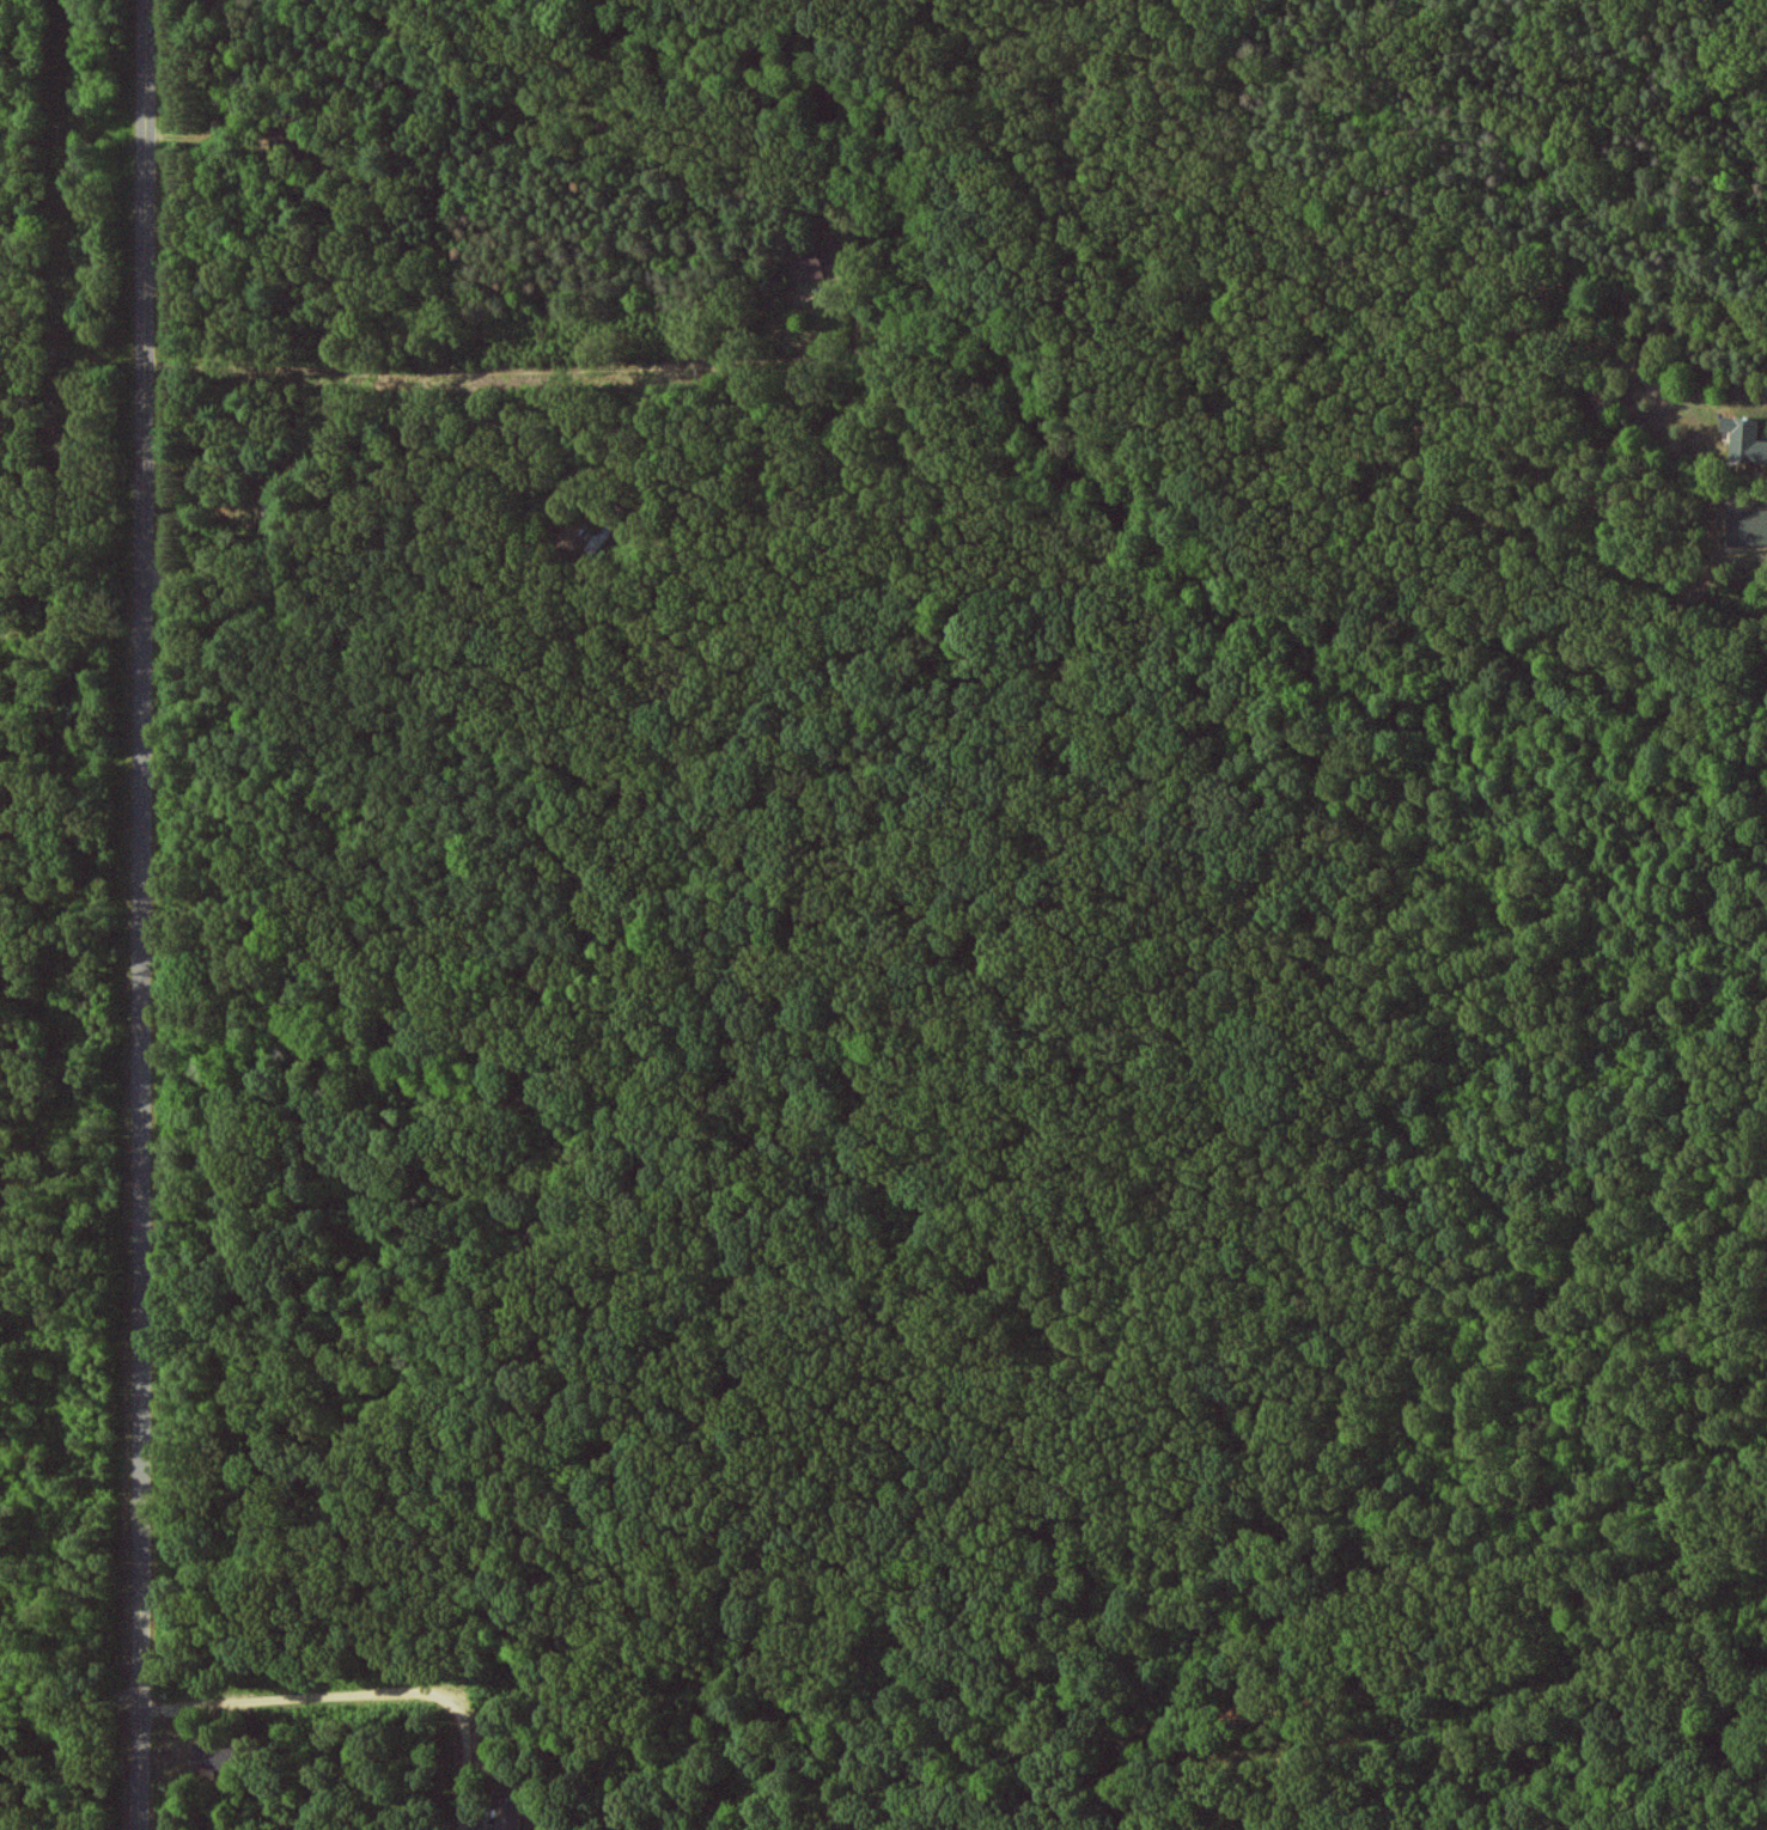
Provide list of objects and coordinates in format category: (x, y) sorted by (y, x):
building: (814, 266)
building: (1744, 439)
building: (1747, 526)
road: (148, 915)
road: (1330, 1686)
road: (367, 1691)
building: (207, 1756)
building: (508, 1813)

